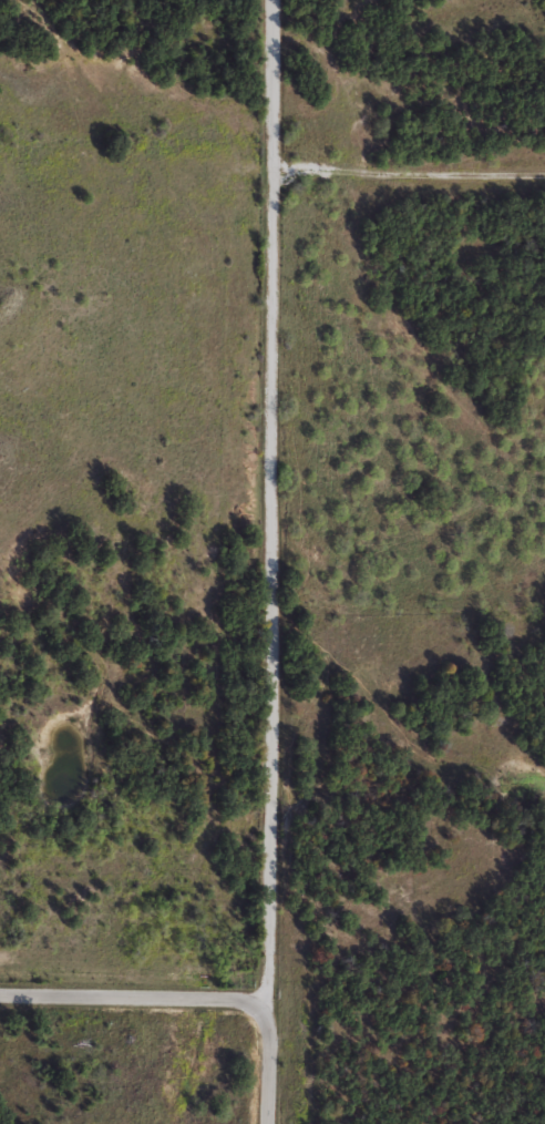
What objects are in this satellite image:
road: (408, 172)
road: (269, 505)
road: (132, 997)
road: (266, 1067)

